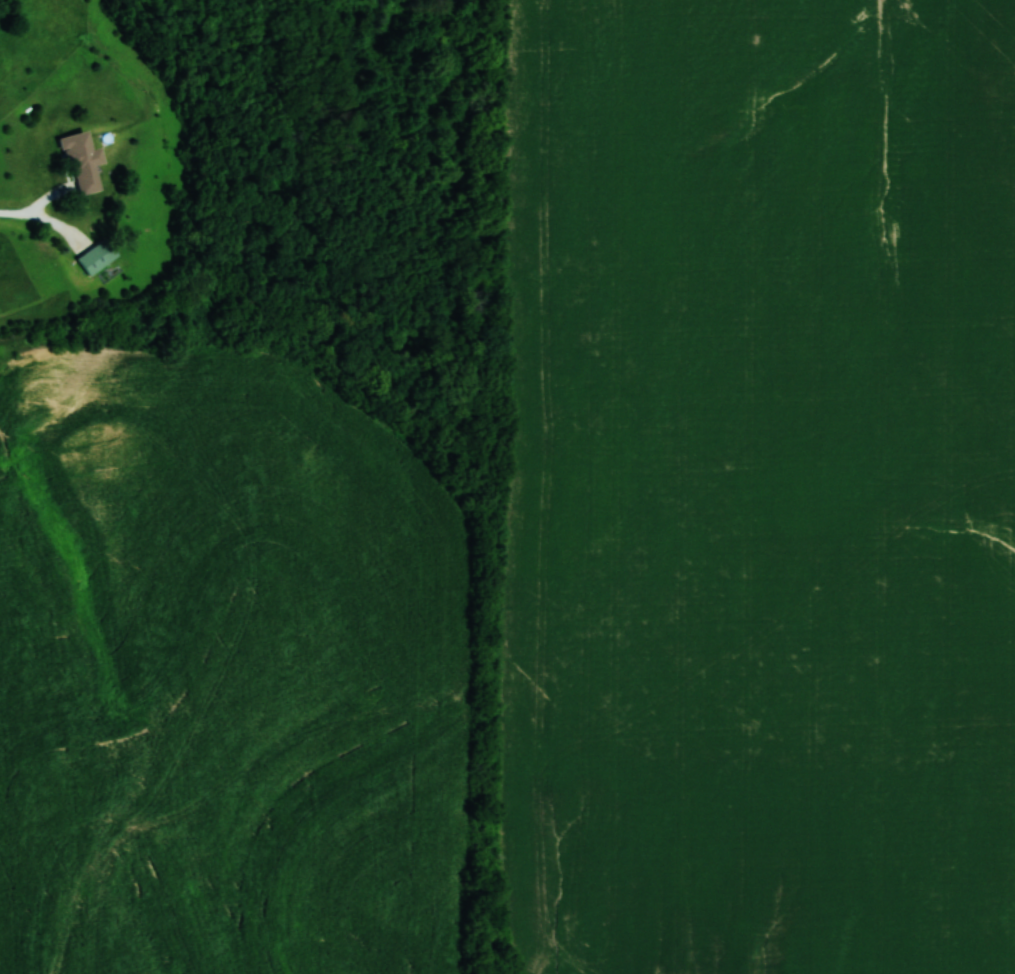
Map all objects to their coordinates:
road: (37, 207)
building: (97, 256)

